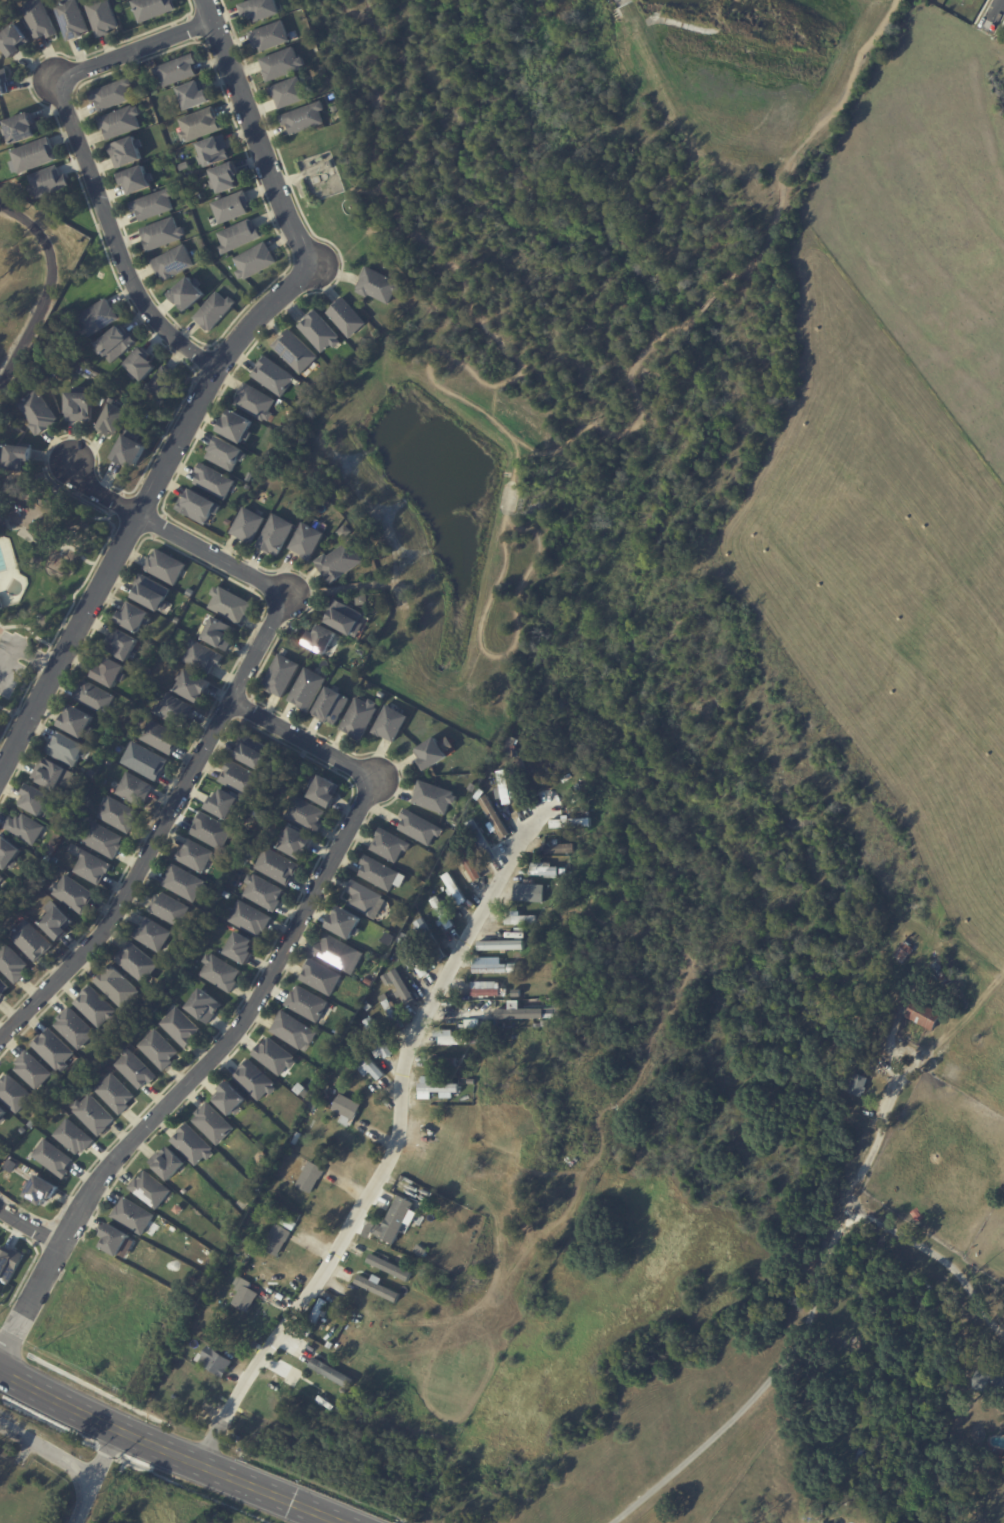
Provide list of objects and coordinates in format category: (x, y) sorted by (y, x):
building: (260, 8)
building: (153, 9)
road: (994, 11)
building: (102, 17)
building: (70, 18)
building: (39, 20)
building: (270, 34)
building: (12, 41)
road: (134, 49)
building: (281, 63)
building: (177, 69)
building: (3, 81)
building: (290, 90)
building: (112, 94)
building: (194, 94)
building: (332, 100)
building: (304, 117)
building: (120, 121)
building: (200, 124)
building: (19, 127)
road: (255, 136)
building: (213, 149)
building: (126, 150)
building: (33, 156)
building: (329, 164)
building: (225, 177)
building: (136, 179)
building: (47, 183)
building: (198, 197)
building: (153, 204)
building: (231, 206)
building: (162, 233)
building: (238, 236)
road: (113, 241)
building: (255, 261)
building: (173, 262)
building: (378, 285)
road: (46, 287)
building: (188, 292)
building: (214, 310)
building: (346, 317)
building: (97, 319)
building: (319, 331)
building: (115, 345)
building: (294, 351)
building: (140, 366)
building: (273, 376)
building: (163, 386)
building: (255, 402)
building: (79, 405)
building: (38, 414)
building: (112, 421)
building: (236, 426)
building: (129, 451)
building: (225, 453)
building: (17, 457)
building: (214, 481)
building: (242, 483)
building: (197, 506)
road: (143, 507)
building: (247, 525)
building: (344, 532)
road: (173, 535)
building: (275, 535)
building: (306, 540)
building: (339, 562)
building: (165, 566)
building: (151, 592)
building: (190, 592)
building: (361, 600)
building: (1, 601)
building: (229, 605)
building: (134, 618)
building: (344, 618)
building: (219, 634)
building: (321, 639)
road: (20, 643)
building: (121, 643)
building: (203, 656)
parking lot: (11, 660)
building: (332, 667)
building: (109, 672)
building: (281, 676)
building: (193, 686)
building: (307, 689)
building: (381, 695)
building: (94, 697)
building: (331, 706)
building: (173, 709)
building: (359, 718)
building: (76, 721)
building: (390, 723)
building: (159, 737)
building: (511, 747)
building: (67, 749)
building: (253, 752)
building: (435, 752)
building: (145, 762)
building: (521, 763)
building: (48, 774)
building: (241, 778)
building: (504, 787)
building: (517, 787)
building: (133, 789)
building: (325, 792)
building: (434, 798)
building: (34, 800)
building: (223, 804)
building: (573, 809)
building: (305, 814)
building: (118, 815)
building: (493, 817)
building: (569, 822)
building: (420, 828)
building: (25, 829)
building: (211, 831)
road: (162, 832)
building: (480, 839)
building: (102, 840)
building: (296, 843)
building: (390, 846)
building: (560, 849)
building: (8, 854)
building: (195, 856)
building: (467, 861)
building: (91, 867)
building: (276, 868)
building: (545, 871)
building: (379, 874)
building: (1, 879)
building: (184, 884)
building: (454, 889)
building: (530, 892)
building: (263, 893)
building: (73, 895)
building: (364, 898)
building: (169, 910)
building: (443, 915)
building: (521, 918)
building: (249, 919)
building: (343, 922)
building: (56, 924)
building: (152, 935)
building: (430, 940)
building: (31, 941)
building: (505, 941)
building: (240, 949)
building: (907, 949)
building: (337, 952)
building: (414, 960)
building: (137, 963)
building: (12, 964)
building: (491, 968)
building: (945, 971)
building: (220, 973)
building: (319, 975)
building: (369, 981)
building: (116, 988)
building: (400, 988)
building: (3, 989)
building: (486, 989)
building: (504, 992)
building: (307, 1004)
building: (204, 1007)
building: (95, 1008)
building: (391, 1011)
building: (518, 1011)
road: (249, 1012)
building: (925, 1015)
building: (466, 1016)
building: (180, 1028)
building: (74, 1029)
building: (294, 1032)
building: (340, 1032)
building: (378, 1039)
building: (462, 1042)
building: (53, 1050)
building: (158, 1050)
building: (275, 1057)
building: (366, 1063)
building: (444, 1063)
building: (134, 1070)
building: (32, 1071)
building: (255, 1081)
building: (472, 1082)
building: (856, 1087)
building: (434, 1088)
building: (302, 1091)
building: (14, 1095)
building: (115, 1095)
building: (230, 1100)
building: (346, 1110)
building: (93, 1116)
building: (2, 1118)
building: (23, 1120)
building: (213, 1125)
building: (22, 1131)
building: (73, 1138)
building: (297, 1139)
building: (193, 1146)
road: (389, 1154)
building: (53, 1159)
building: (167, 1165)
building: (10, 1166)
building: (310, 1178)
building: (150, 1191)
building: (41, 1192)
building: (133, 1217)
building: (396, 1222)
building: (289, 1224)
road: (29, 1227)
building: (368, 1232)
building: (277, 1240)
building: (113, 1242)
building: (423, 1253)
road: (937, 1257)
building: (9, 1266)
building: (388, 1267)
building: (366, 1273)
building: (375, 1286)
building: (244, 1295)
building: (315, 1320)
road: (804, 1332)
building: (216, 1363)
building: (288, 1364)
building: (330, 1372)
building: (976, 1380)
building: (1000, 1386)
building: (298, 1388)
building: (338, 1409)
road: (168, 1451)
road: (63, 1458)
building: (866, 1458)
park: (164, 1503)

